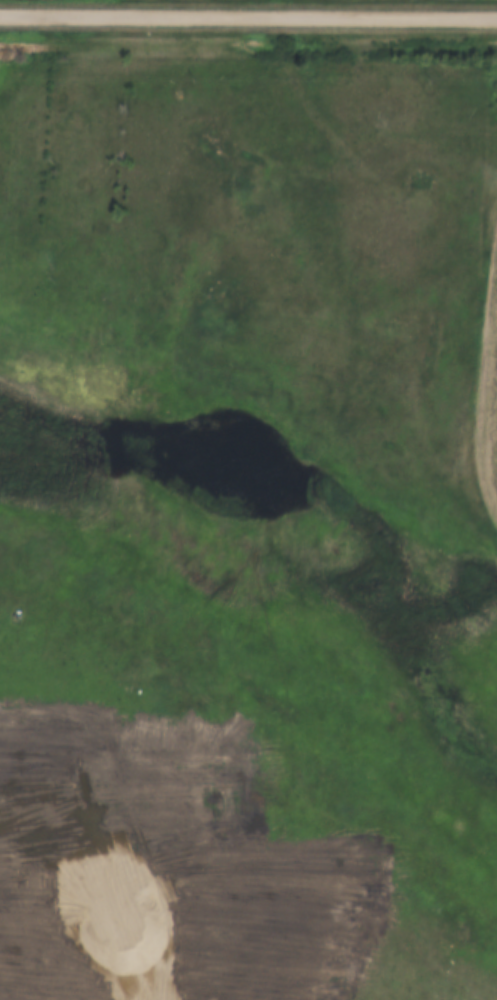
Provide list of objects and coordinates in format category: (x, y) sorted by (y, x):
road: (248, 14)

